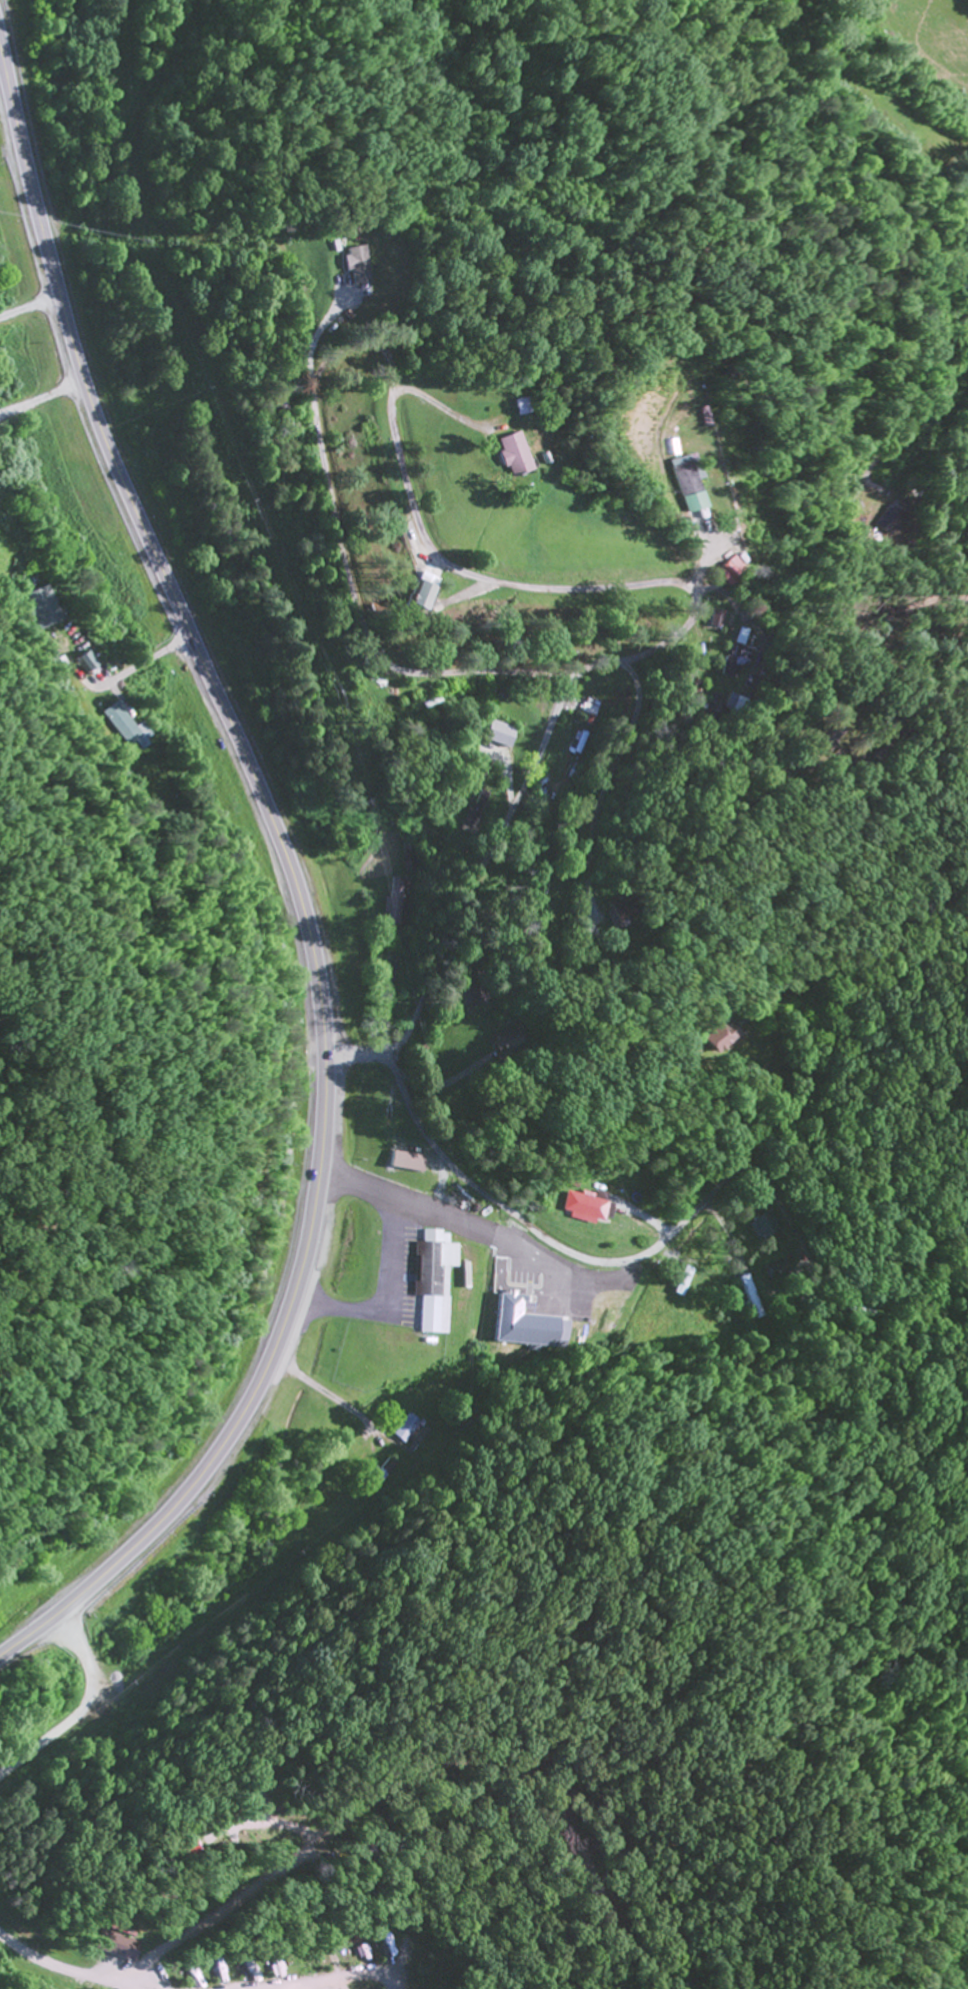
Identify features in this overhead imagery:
road: (72, 23)
road: (114, 238)
building: (361, 263)
road: (26, 304)
building: (518, 458)
building: (689, 487)
building: (884, 522)
building: (429, 596)
building: (654, 603)
building: (39, 609)
road: (686, 622)
building: (84, 663)
building: (734, 663)
building: (118, 728)
road: (505, 765)
road: (692, 808)
road: (426, 850)
road: (479, 869)
road: (296, 892)
building: (627, 916)
building: (717, 1038)
road: (362, 1056)
road: (429, 1069)
building: (587, 1208)
building: (758, 1228)
road: (487, 1253)
road: (609, 1262)
road: (832, 1265)
building: (431, 1280)
building: (536, 1333)
road: (535, 1335)
building: (401, 1429)

